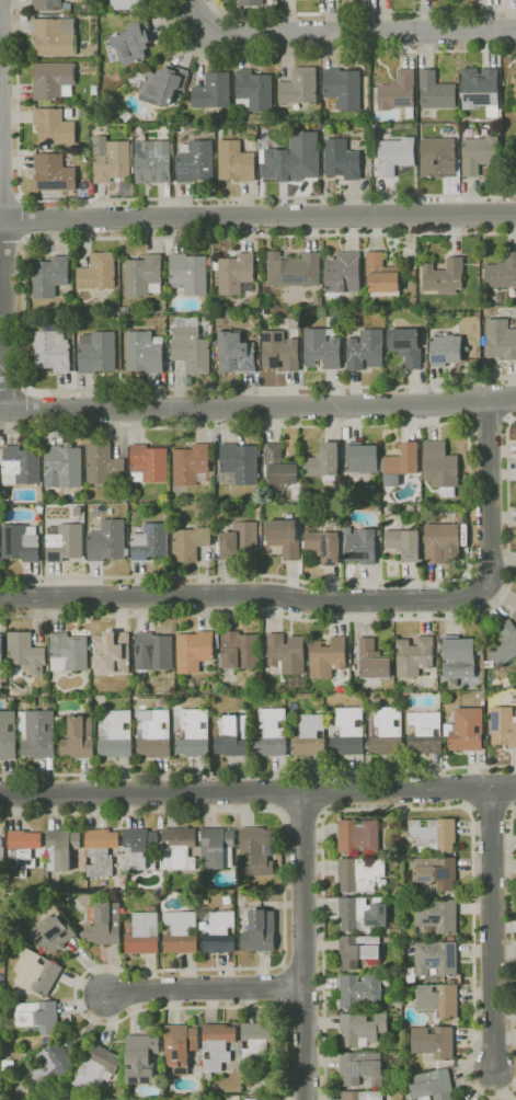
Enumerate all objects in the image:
building: (251, 2)
building: (47, 4)
building: (127, 4)
road: (362, 12)
road: (195, 15)
building: (23, 22)
road: (356, 30)
building: (56, 36)
building: (135, 42)
building: (110, 50)
road: (324, 50)
building: (55, 81)
building: (367, 81)
building: (165, 83)
building: (300, 88)
building: (343, 88)
building: (481, 88)
building: (95, 89)
building: (254, 90)
building: (437, 91)
building: (214, 92)
building: (400, 92)
building: (234, 103)
building: (313, 111)
building: (55, 126)
building: (305, 128)
building: (232, 129)
building: (515, 137)
building: (515, 141)
building: (480, 153)
building: (395, 154)
building: (280, 158)
building: (439, 158)
building: (113, 159)
building: (343, 159)
building: (237, 161)
building: (152, 162)
building: (197, 162)
building: (515, 165)
building: (54, 173)
building: (66, 196)
building: (73, 196)
road: (9, 199)
road: (168, 199)
road: (257, 217)
road: (25, 221)
road: (12, 242)
building: (312, 267)
building: (414, 268)
building: (284, 270)
building: (99, 271)
road: (1, 272)
building: (502, 272)
building: (191, 273)
building: (237, 273)
building: (344, 274)
building: (51, 275)
building: (145, 275)
building: (382, 275)
building: (445, 275)
building: (125, 309)
road: (24, 313)
building: (217, 337)
building: (498, 337)
building: (408, 345)
building: (323, 347)
building: (192, 350)
building: (366, 350)
building: (53, 351)
building: (280, 351)
building: (446, 351)
building: (98, 352)
building: (145, 352)
building: (215, 353)
building: (237, 353)
road: (13, 387)
road: (257, 406)
road: (488, 423)
building: (364, 458)
building: (403, 460)
building: (324, 462)
building: (149, 463)
building: (240, 463)
building: (21, 465)
building: (65, 465)
building: (104, 465)
building: (192, 465)
building: (280, 466)
building: (442, 467)
building: (377, 499)
road: (468, 499)
building: (378, 506)
building: (412, 508)
building: (515, 512)
building: (306, 515)
building: (461, 516)
building: (81, 517)
building: (96, 527)
building: (285, 537)
building: (240, 539)
building: (65, 541)
building: (108, 541)
building: (151, 541)
building: (22, 542)
building: (191, 542)
building: (325, 542)
building: (405, 543)
building: (443, 543)
building: (362, 546)
road: (337, 599)
building: (515, 615)
road: (346, 619)
building: (505, 643)
building: (1, 646)
building: (156, 650)
building: (195, 650)
building: (241, 650)
building: (26, 652)
building: (69, 652)
building: (112, 652)
building: (287, 653)
building: (460, 653)
building: (414, 655)
building: (328, 656)
building: (263, 658)
building: (372, 662)
building: (481, 692)
building: (491, 695)
building: (216, 723)
building: (503, 725)
building: (467, 729)
building: (388, 731)
building: (272, 732)
building: (349, 732)
building: (37, 733)
building: (153, 733)
building: (194, 733)
building: (426, 733)
building: (8, 734)
building: (117, 734)
building: (310, 735)
building: (234, 736)
building: (79, 737)
road: (257, 771)
road: (257, 790)
road: (420, 809)
road: (303, 813)
building: (435, 834)
building: (358, 835)
building: (61, 848)
building: (140, 848)
building: (180, 848)
building: (218, 848)
building: (23, 850)
building: (257, 850)
building: (101, 851)
building: (2, 853)
building: (436, 871)
building: (360, 872)
building: (363, 913)
building: (436, 917)
building: (106, 924)
building: (51, 928)
road: (512, 928)
road: (490, 930)
building: (261, 931)
building: (144, 932)
building: (181, 932)
building: (220, 933)
road: (303, 944)
building: (358, 950)
building: (437, 959)
building: (375, 964)
road: (228, 969)
building: (37, 972)
road: (204, 988)
building: (360, 989)
building: (400, 999)
building: (438, 999)
building: (11, 1011)
building: (38, 1016)
building: (455, 1023)
building: (363, 1028)
building: (257, 1042)
building: (433, 1044)
building: (180, 1046)
building: (217, 1046)
building: (142, 1057)
building: (48, 1065)
building: (362, 1067)
building: (98, 1068)
building: (250, 1084)
building: (397, 1084)
building: (433, 1084)
building: (363, 1096)
building: (461, 1099)

